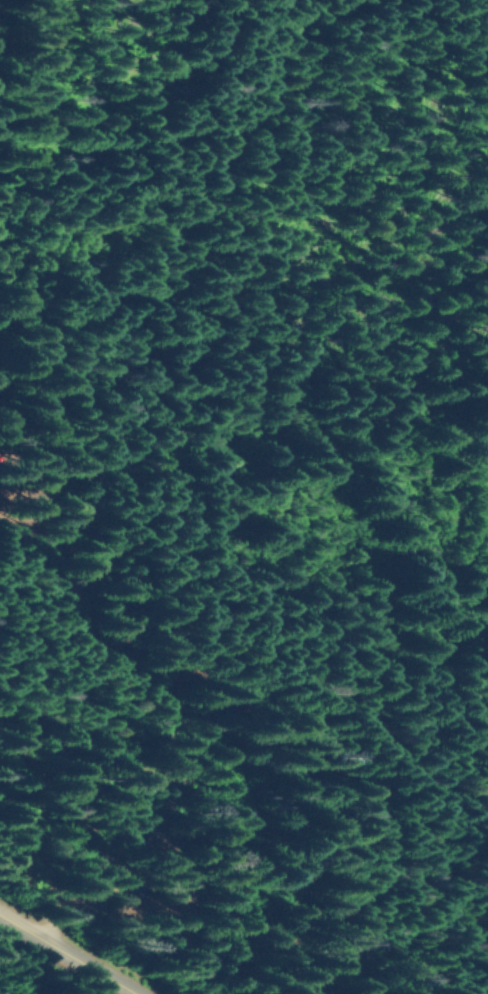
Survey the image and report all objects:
road: (74, 950)

